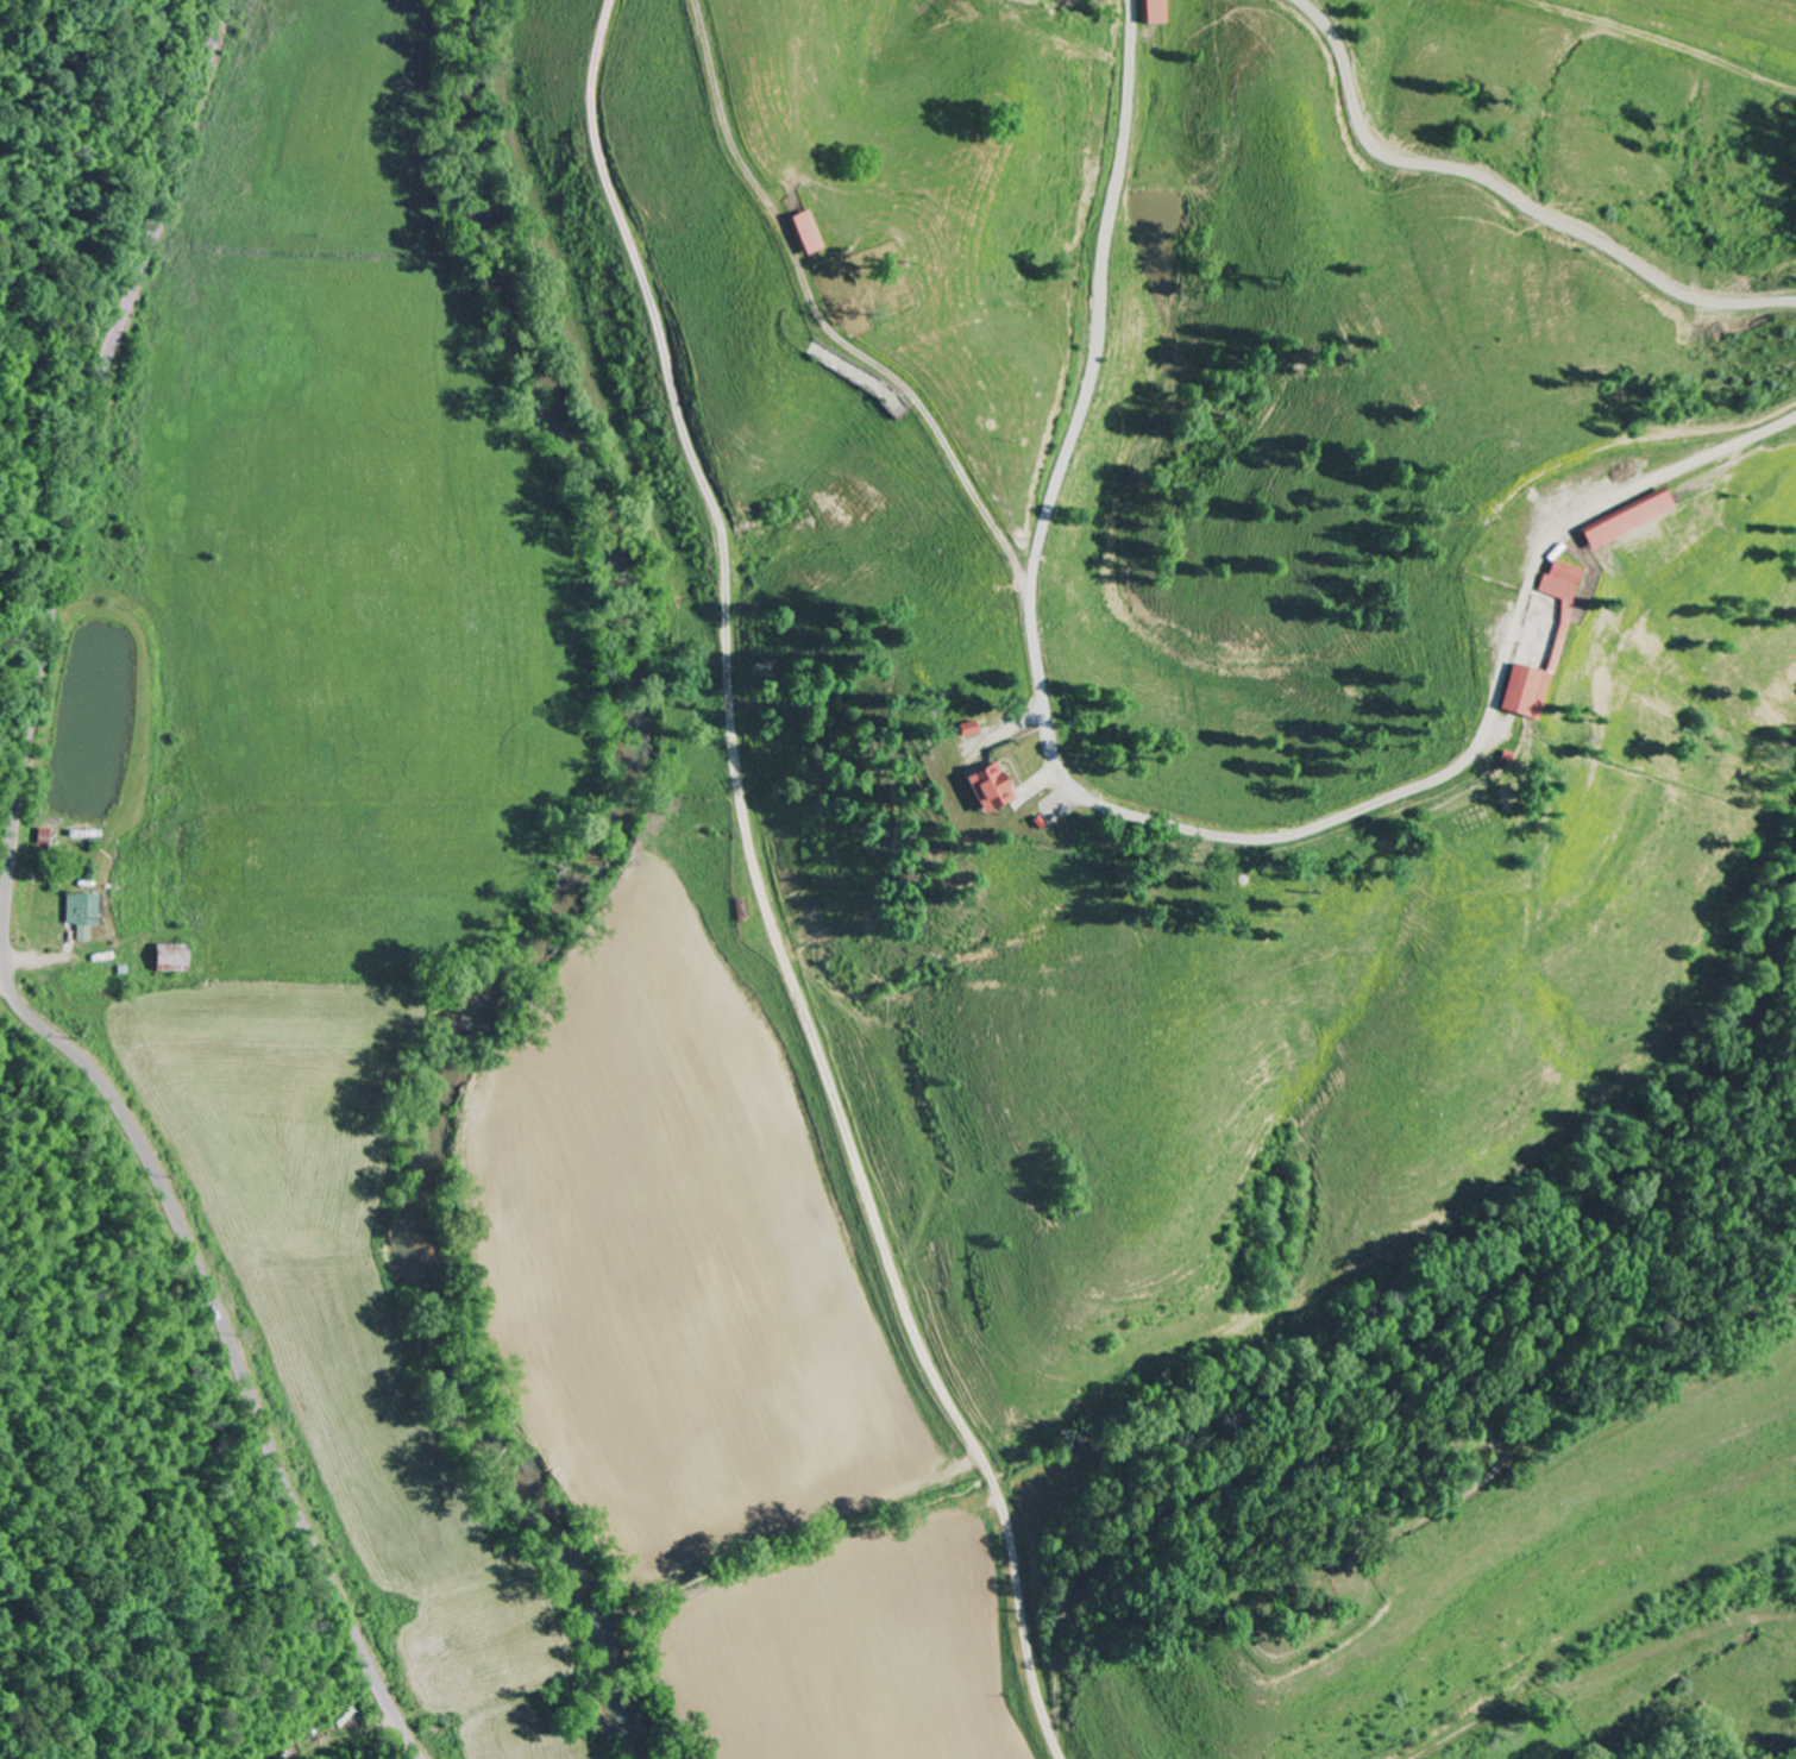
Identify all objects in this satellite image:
building: (1151, 12)
building: (802, 233)
building: (1616, 517)
building: (1550, 579)
building: (1513, 690)
building: (962, 729)
building: (984, 789)
river: (558, 898)
building: (81, 915)
road: (25, 918)
building: (169, 959)
road: (1294, 1458)
road: (1054, 1726)

